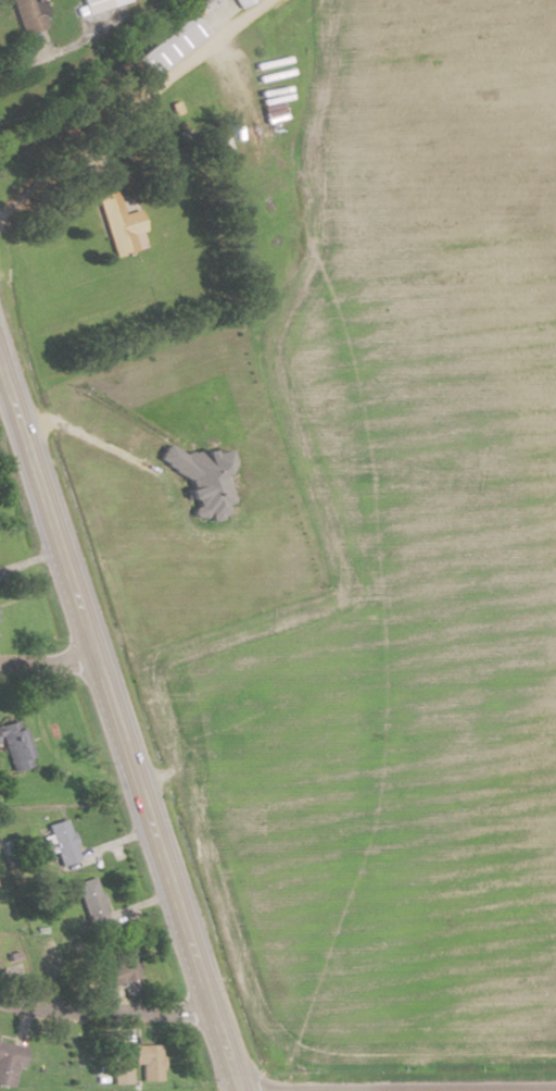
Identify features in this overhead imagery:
building: (239, 2)
building: (98, 4)
building: (28, 14)
road: (74, 40)
building: (167, 46)
road: (132, 103)
building: (119, 225)
road: (45, 657)
road: (116, 732)
building: (15, 744)
building: (62, 841)
building: (90, 900)
building: (119, 966)
road: (102, 1013)
road: (380, 1013)
building: (9, 1062)
building: (147, 1062)

